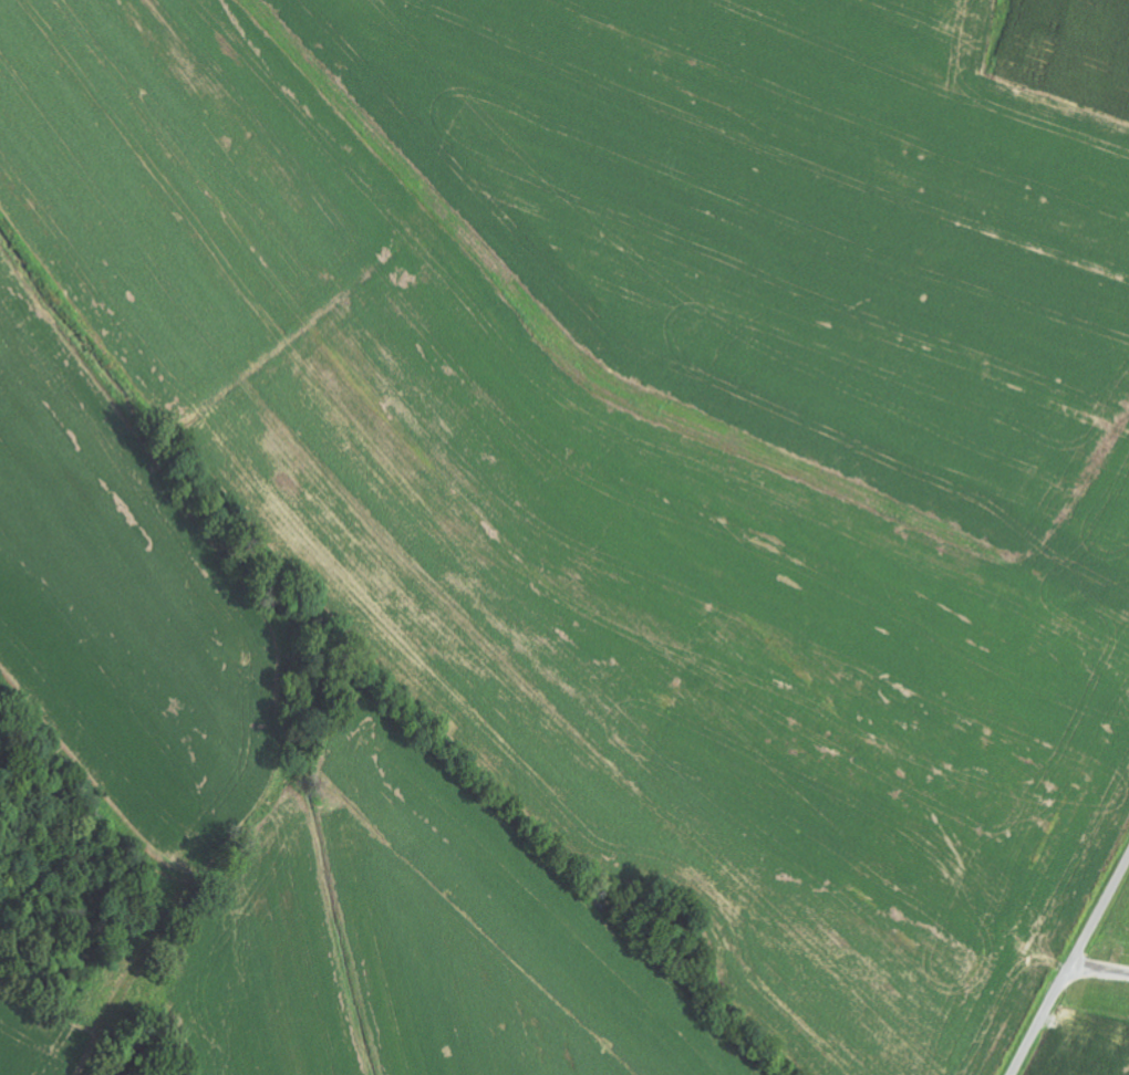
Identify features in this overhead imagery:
road: (1071, 967)

